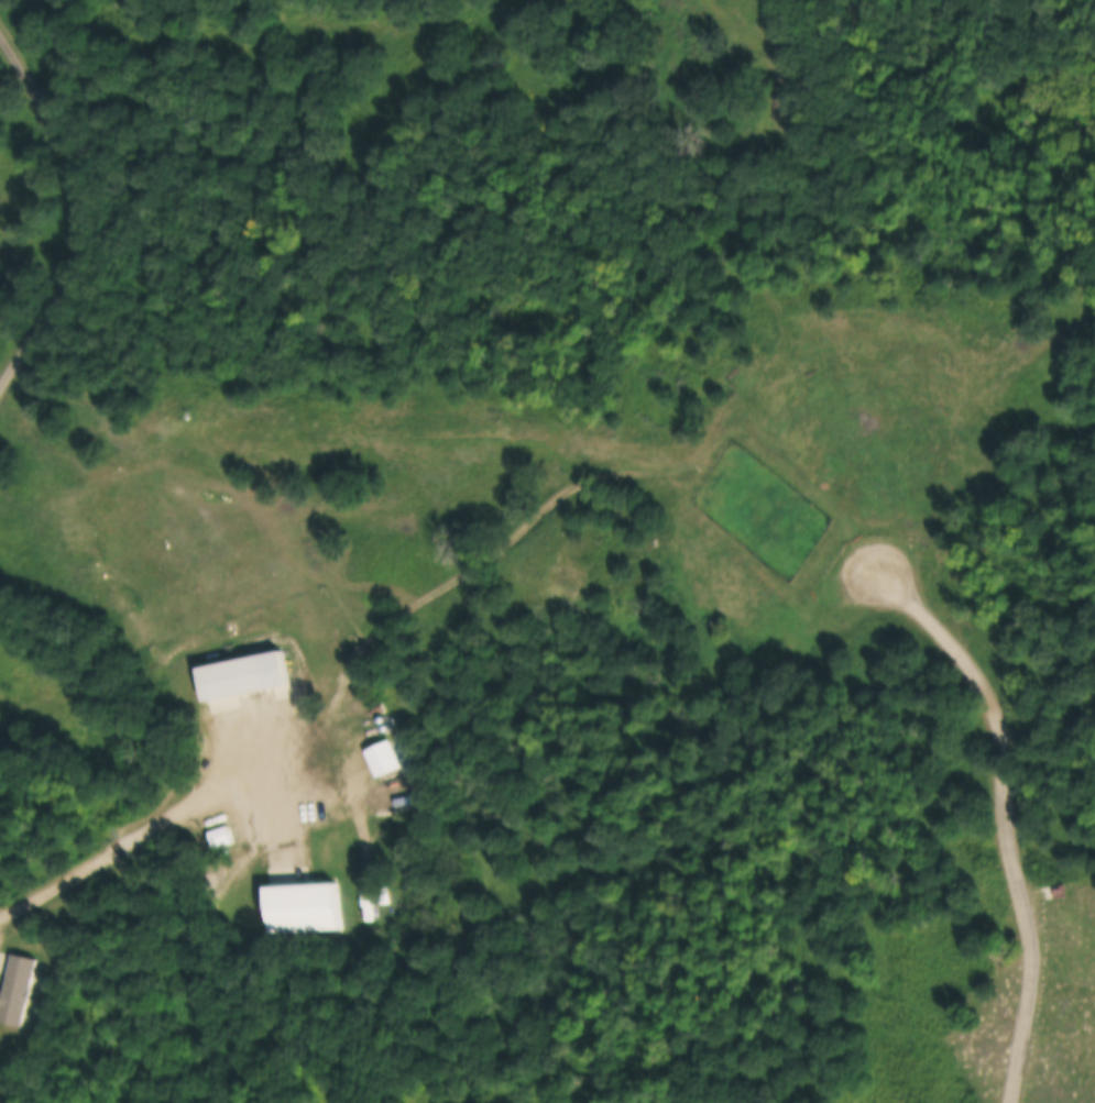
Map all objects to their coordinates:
road: (68, 212)
road: (854, 555)
building: (236, 677)
building: (377, 761)
road: (150, 828)
road: (1010, 840)
building: (216, 842)
building: (1066, 896)
building: (300, 911)
building: (13, 991)

